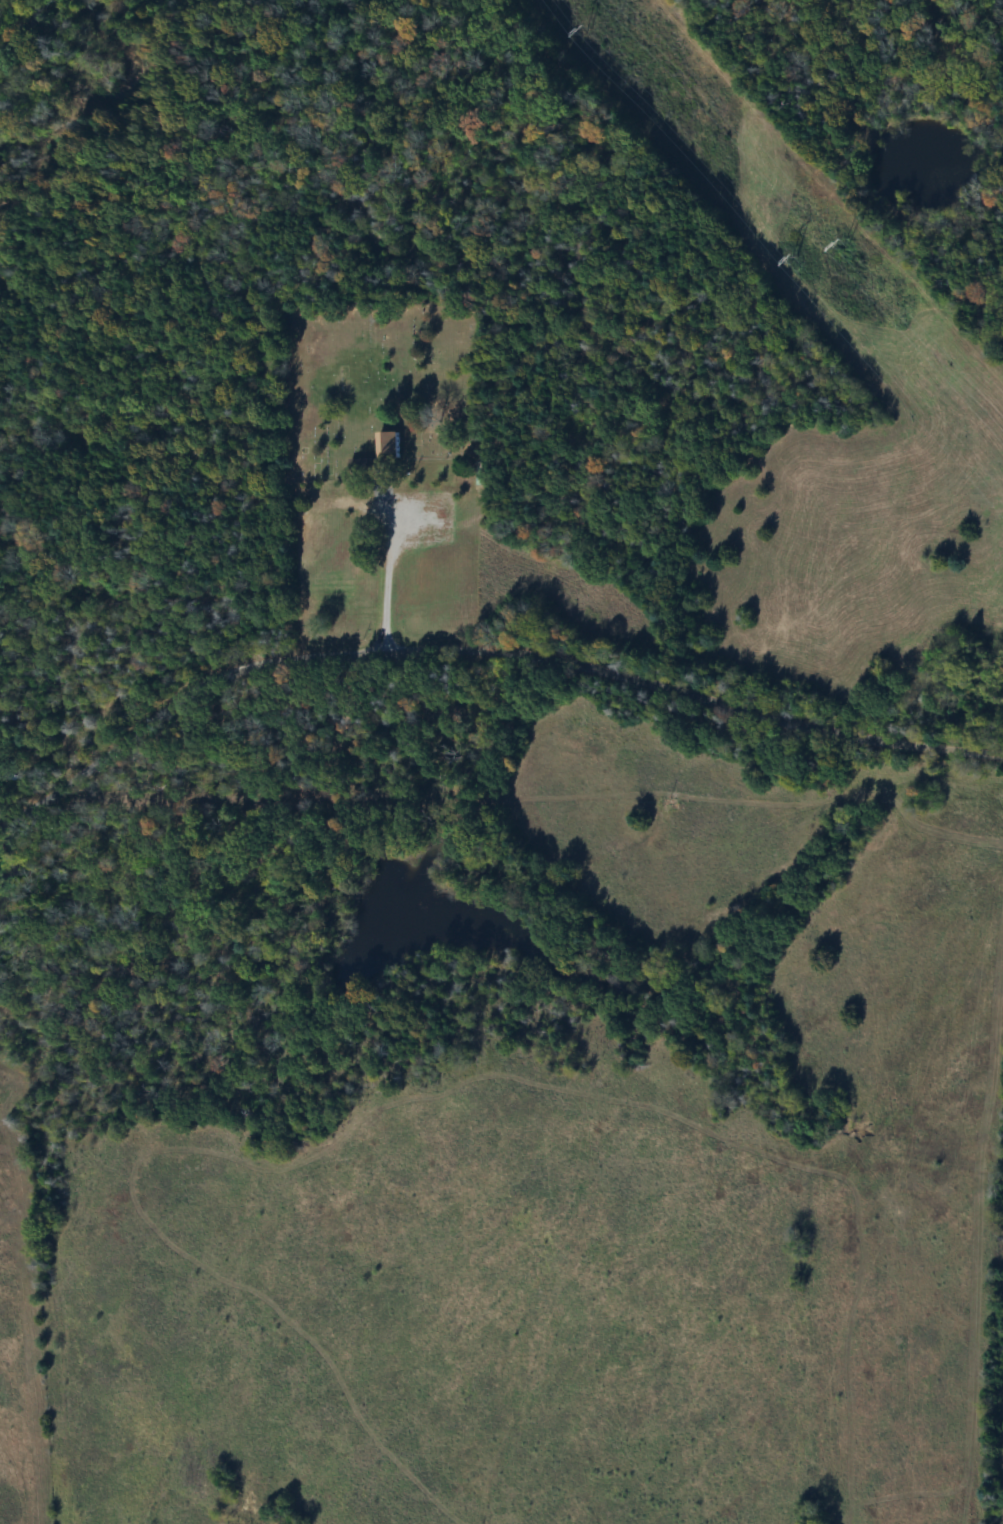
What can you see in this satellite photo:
power tower: (576, 31)
power tower: (832, 244)
power tower: (781, 262)
park: (380, 394)
road: (484, 672)

